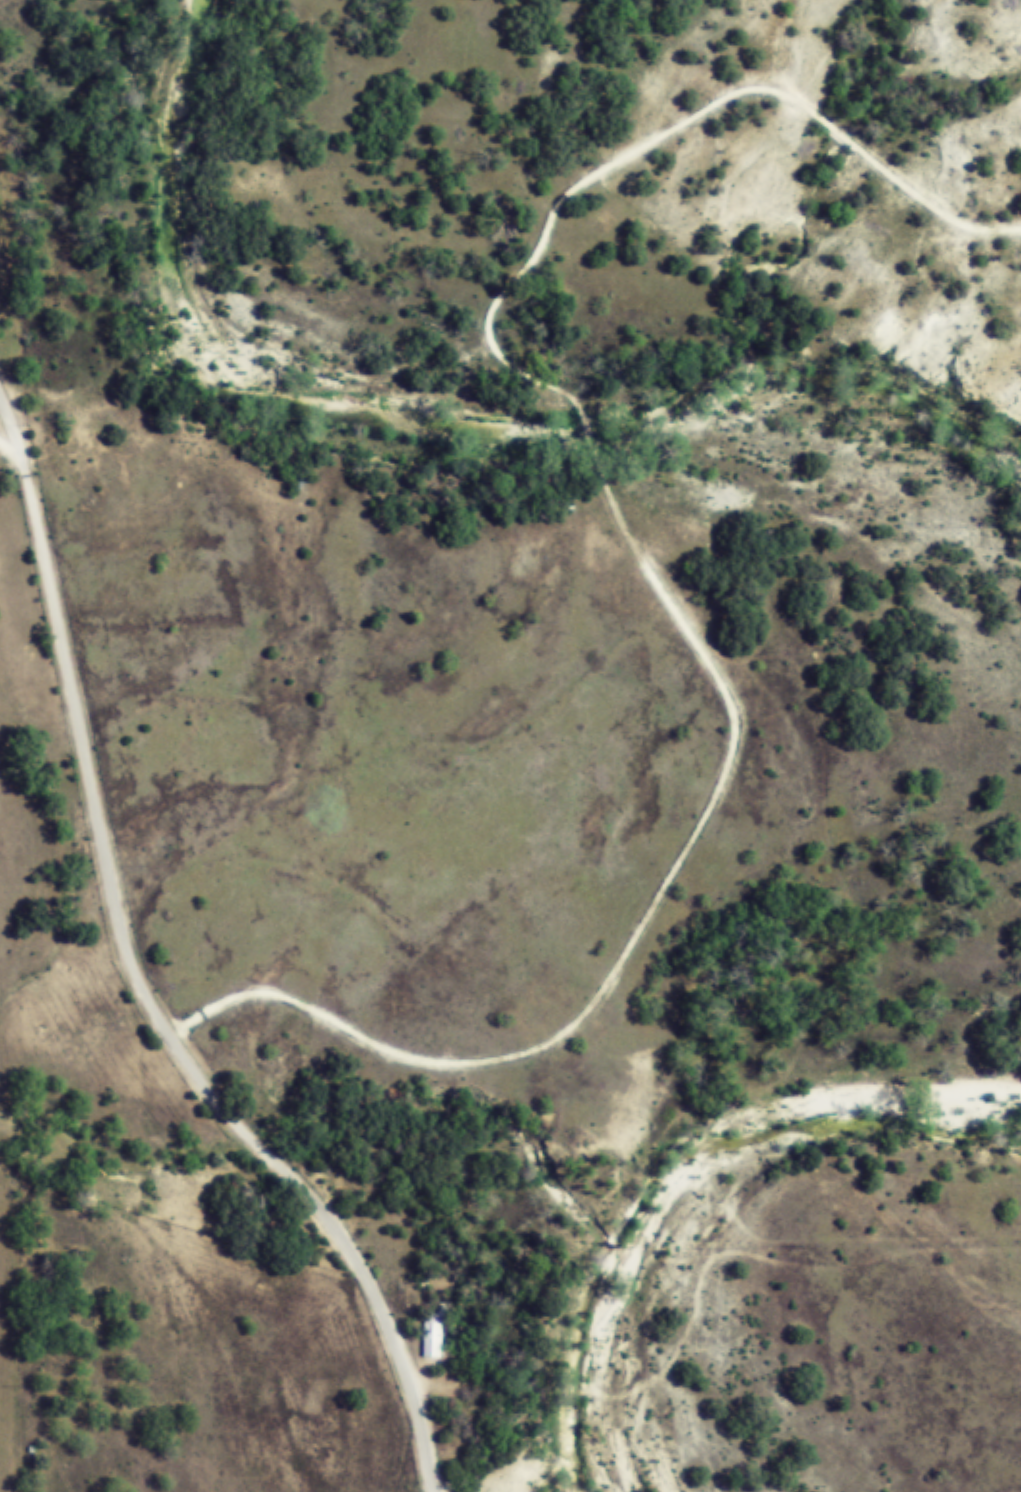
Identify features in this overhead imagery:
river: (437, 413)
road: (13, 452)
road: (142, 977)
river: (681, 1169)
building: (432, 1337)

